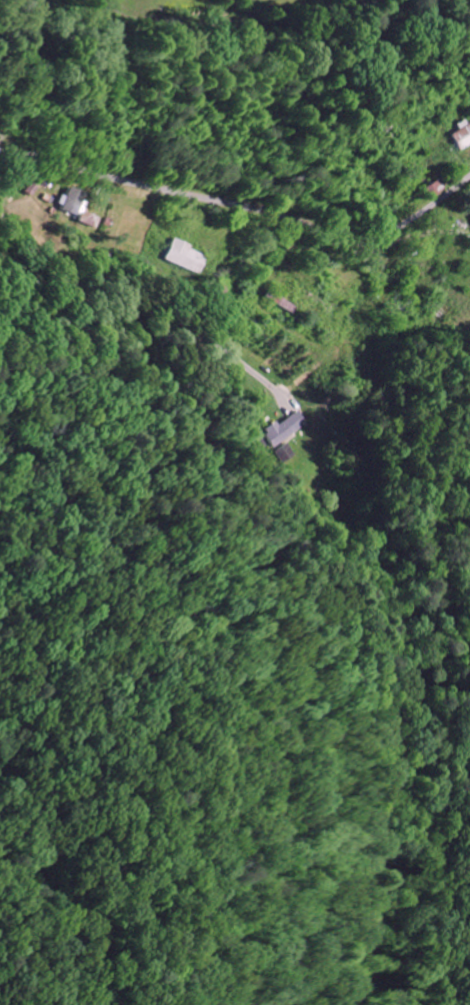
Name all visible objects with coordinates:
building: (456, 136)
road: (245, 205)
building: (76, 207)
building: (467, 221)
road: (44, 251)
building: (181, 257)
road: (177, 319)
building: (281, 429)

